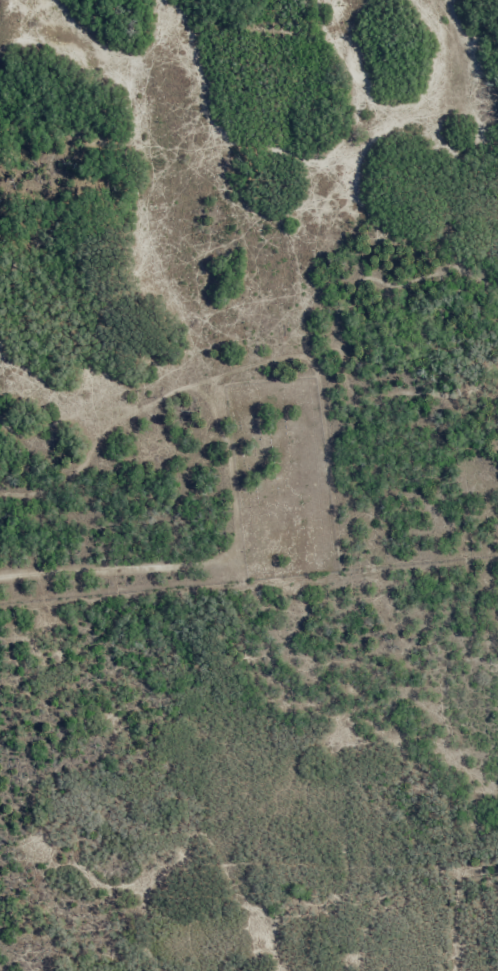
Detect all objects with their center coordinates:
road: (3, 1)
road: (72, 188)
park: (282, 479)

